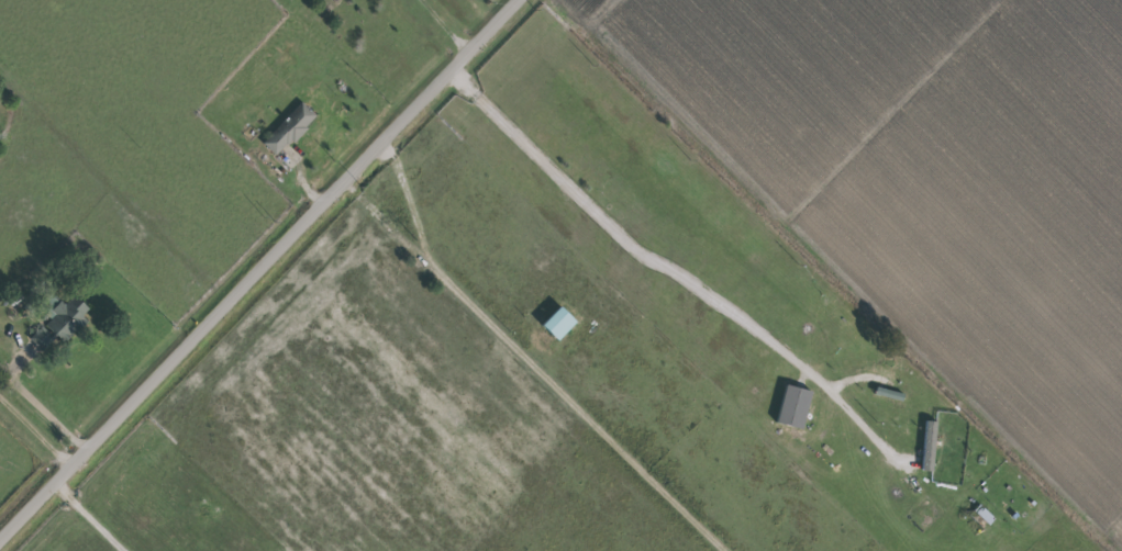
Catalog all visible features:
road: (445, 24)
building: (289, 128)
road: (403, 187)
road: (615, 239)
road: (258, 270)
building: (60, 322)
building: (559, 323)
road: (542, 359)
building: (795, 406)
road: (43, 408)
road: (35, 435)
building: (930, 445)
building: (984, 513)
road: (85, 519)

